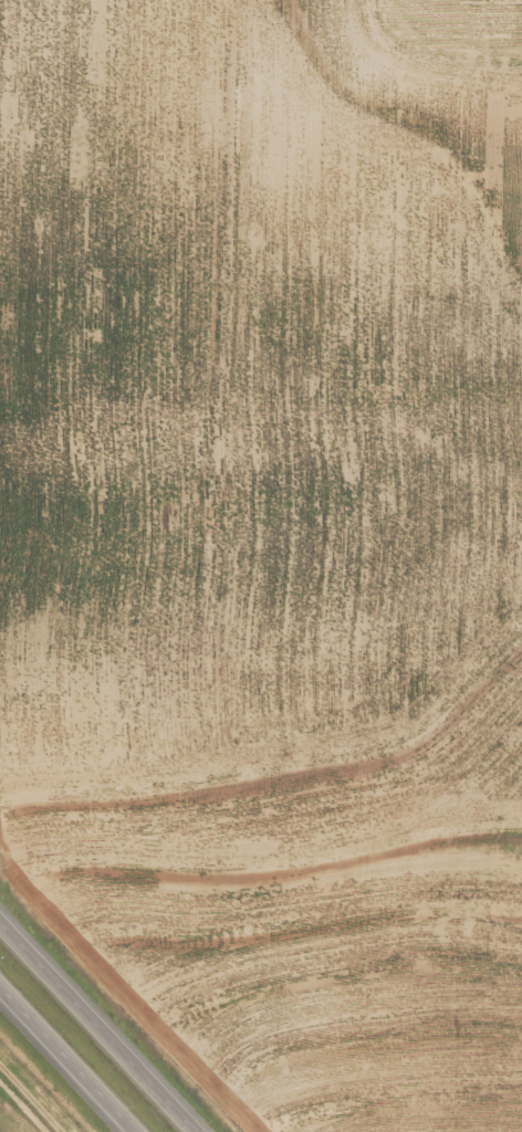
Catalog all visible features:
road: (100, 1023)
road: (66, 1059)
road: (39, 1089)

